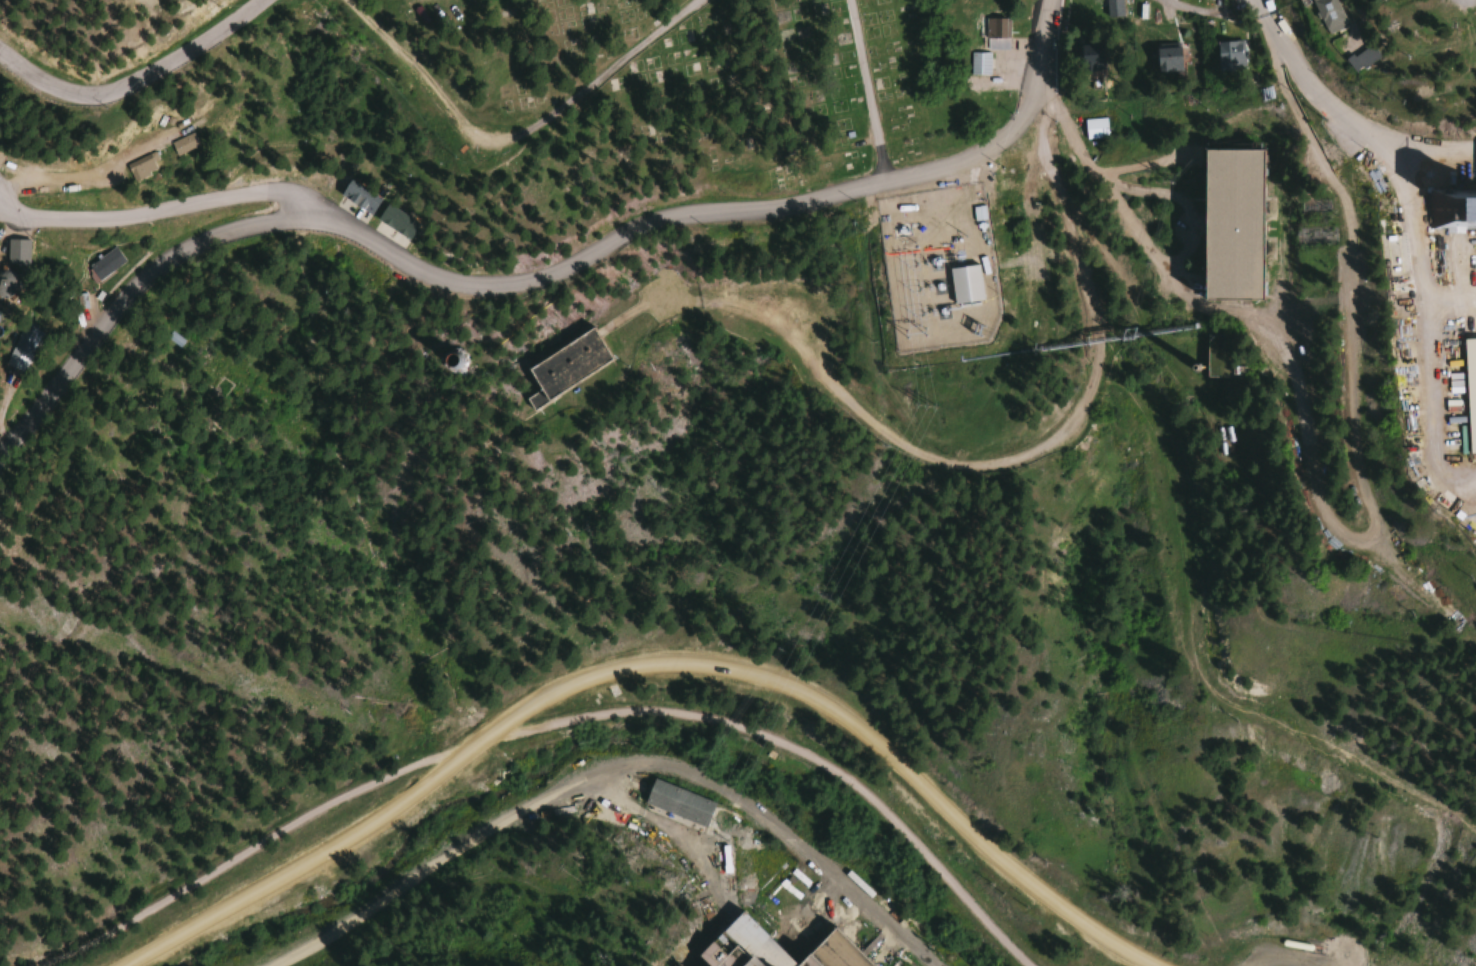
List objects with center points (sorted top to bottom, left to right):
road: (1450, 0)
road: (1457, 1)
road: (1259, 4)
road: (1188, 5)
building: (1113, 8)
building: (1325, 15)
building: (995, 35)
road: (1036, 56)
building: (1090, 56)
building: (1228, 56)
building: (1167, 58)
building: (1359, 59)
building: (979, 64)
road: (134, 76)
road: (864, 89)
road: (1344, 115)
building: (1094, 128)
road: (515, 130)
building: (180, 144)
building: (138, 167)
building: (1449, 180)
road: (1, 195)
building: (357, 198)
road: (158, 211)
building: (1223, 217)
building: (394, 223)
building: (14, 252)
power substation: (926, 256)
building: (105, 263)
building: (665, 278)
road: (474, 281)
building: (963, 284)
building: (4, 285)
road: (1411, 289)
building: (16, 348)
building: (559, 368)
building: (1457, 376)
road: (997, 459)
road: (1316, 518)
road: (649, 668)
road: (543, 727)
building: (677, 802)
building: (770, 947)

